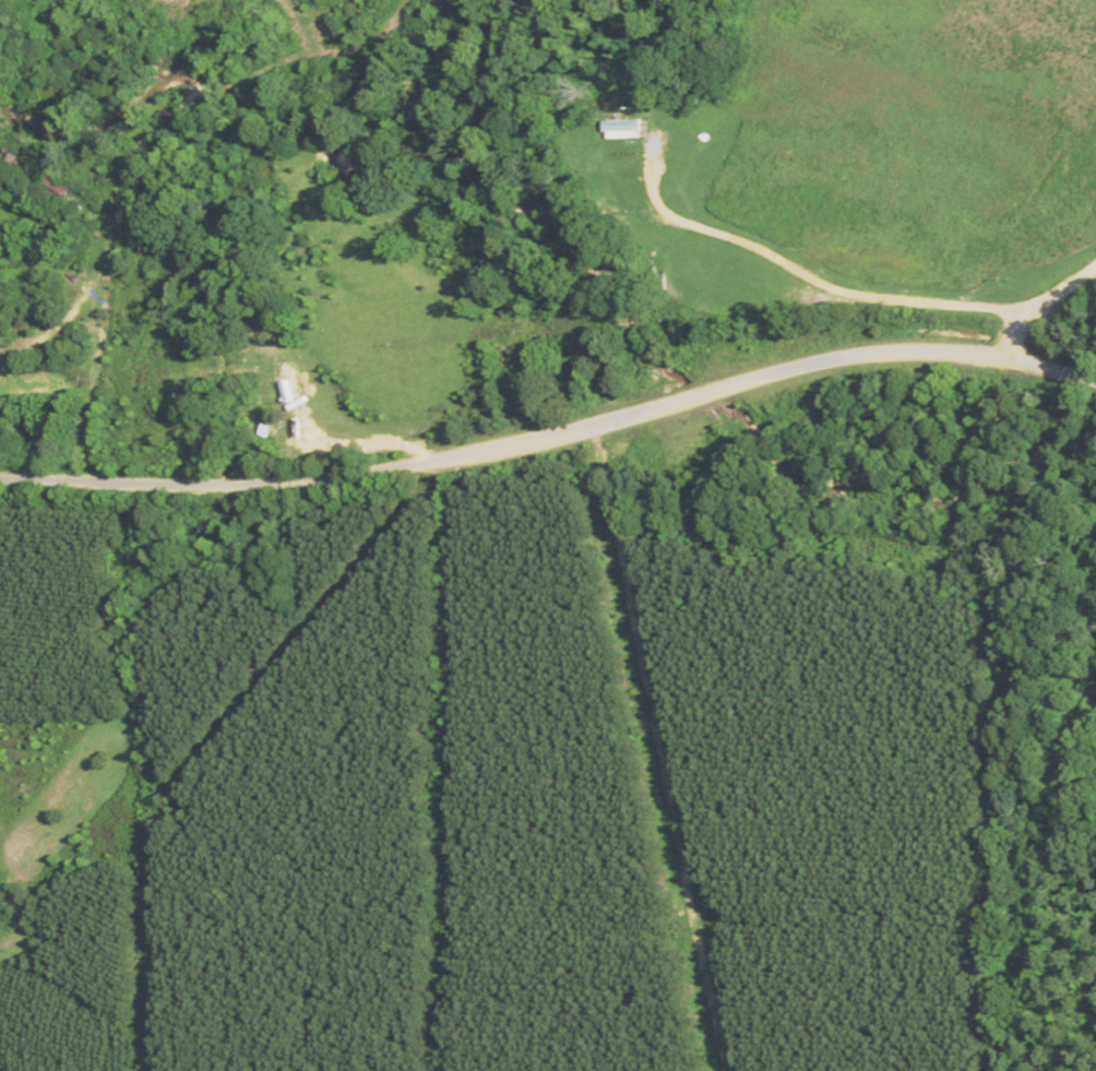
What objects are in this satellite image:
building: (620, 127)
road: (60, 392)
road: (551, 431)

